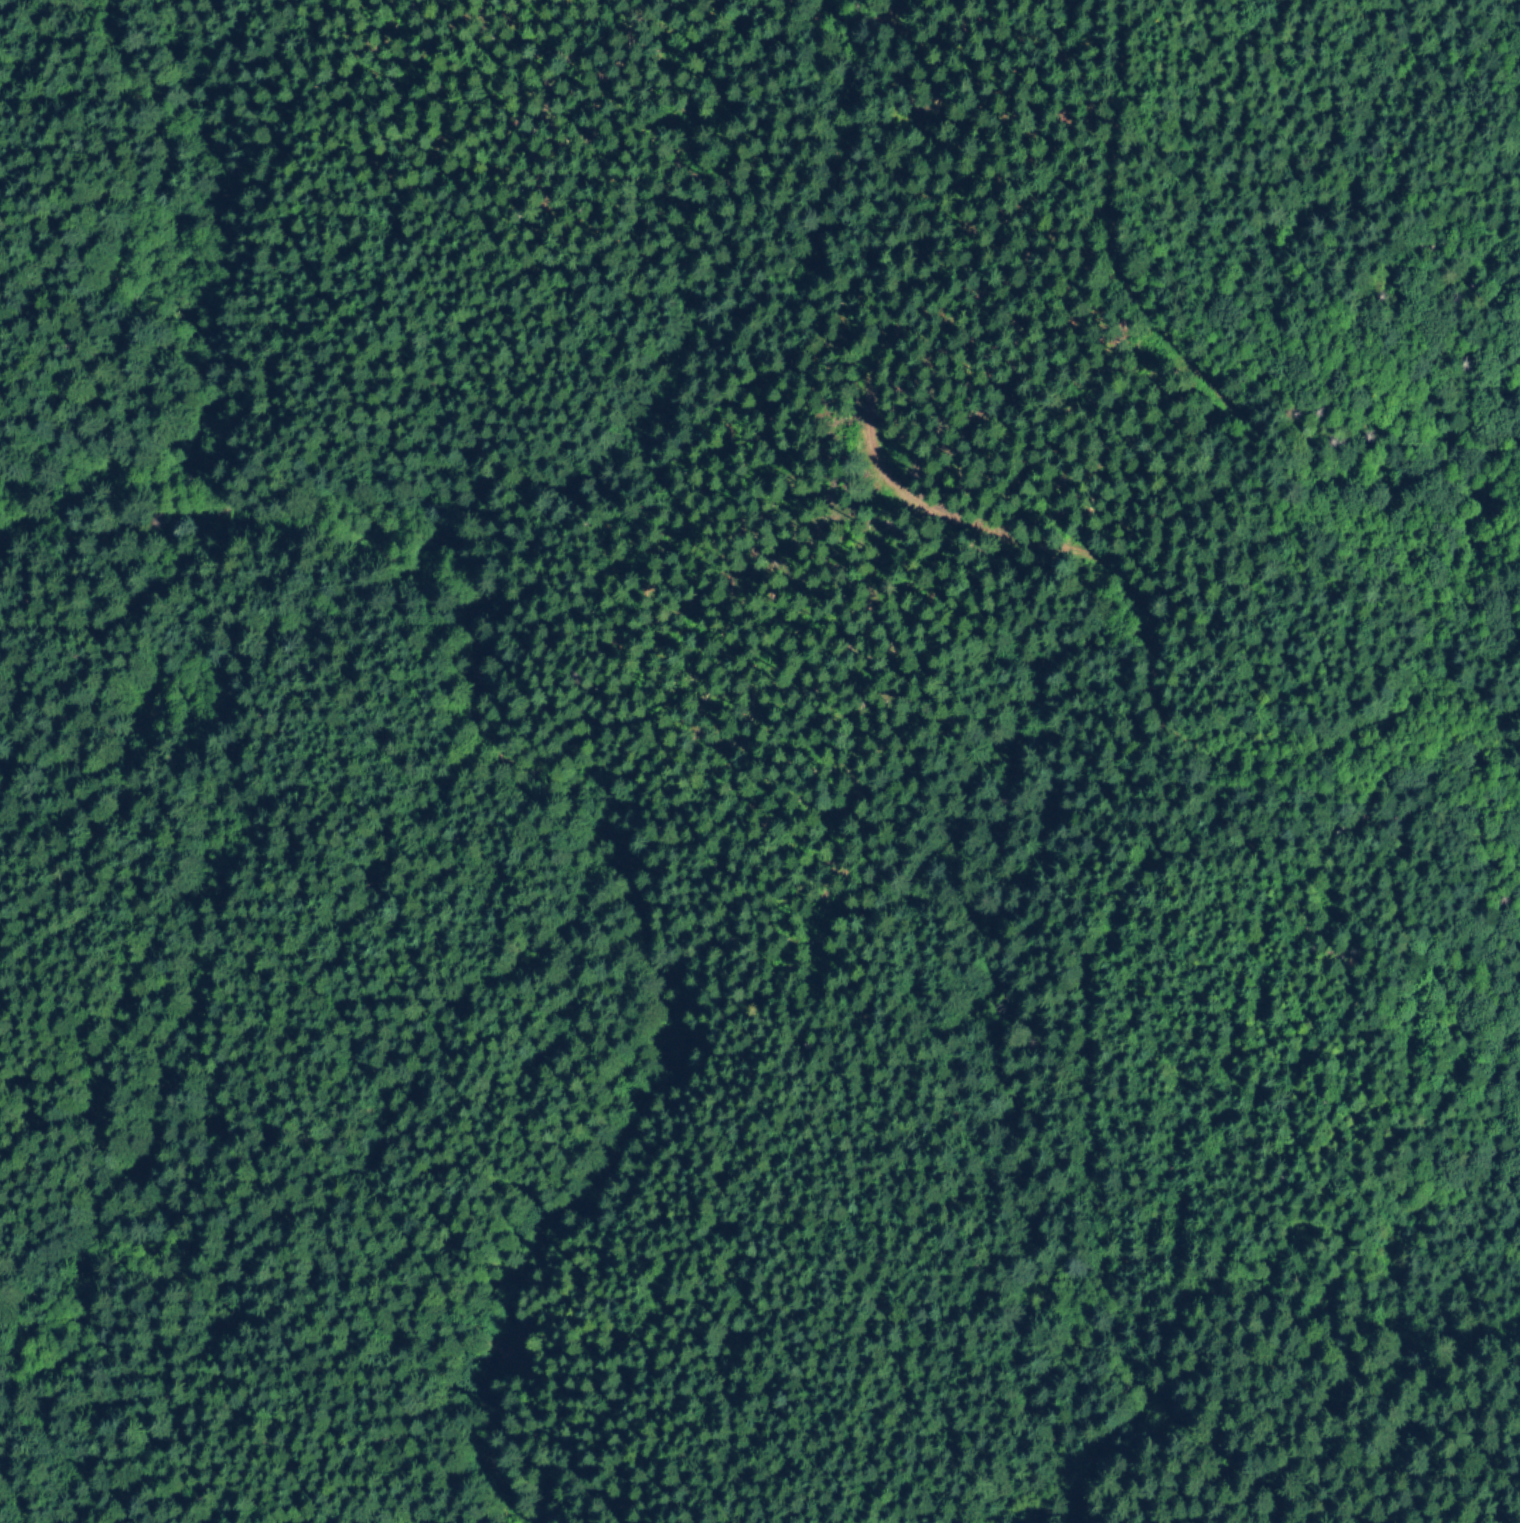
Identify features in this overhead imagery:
road: (846, 11)
road: (1110, 243)
road: (856, 397)

